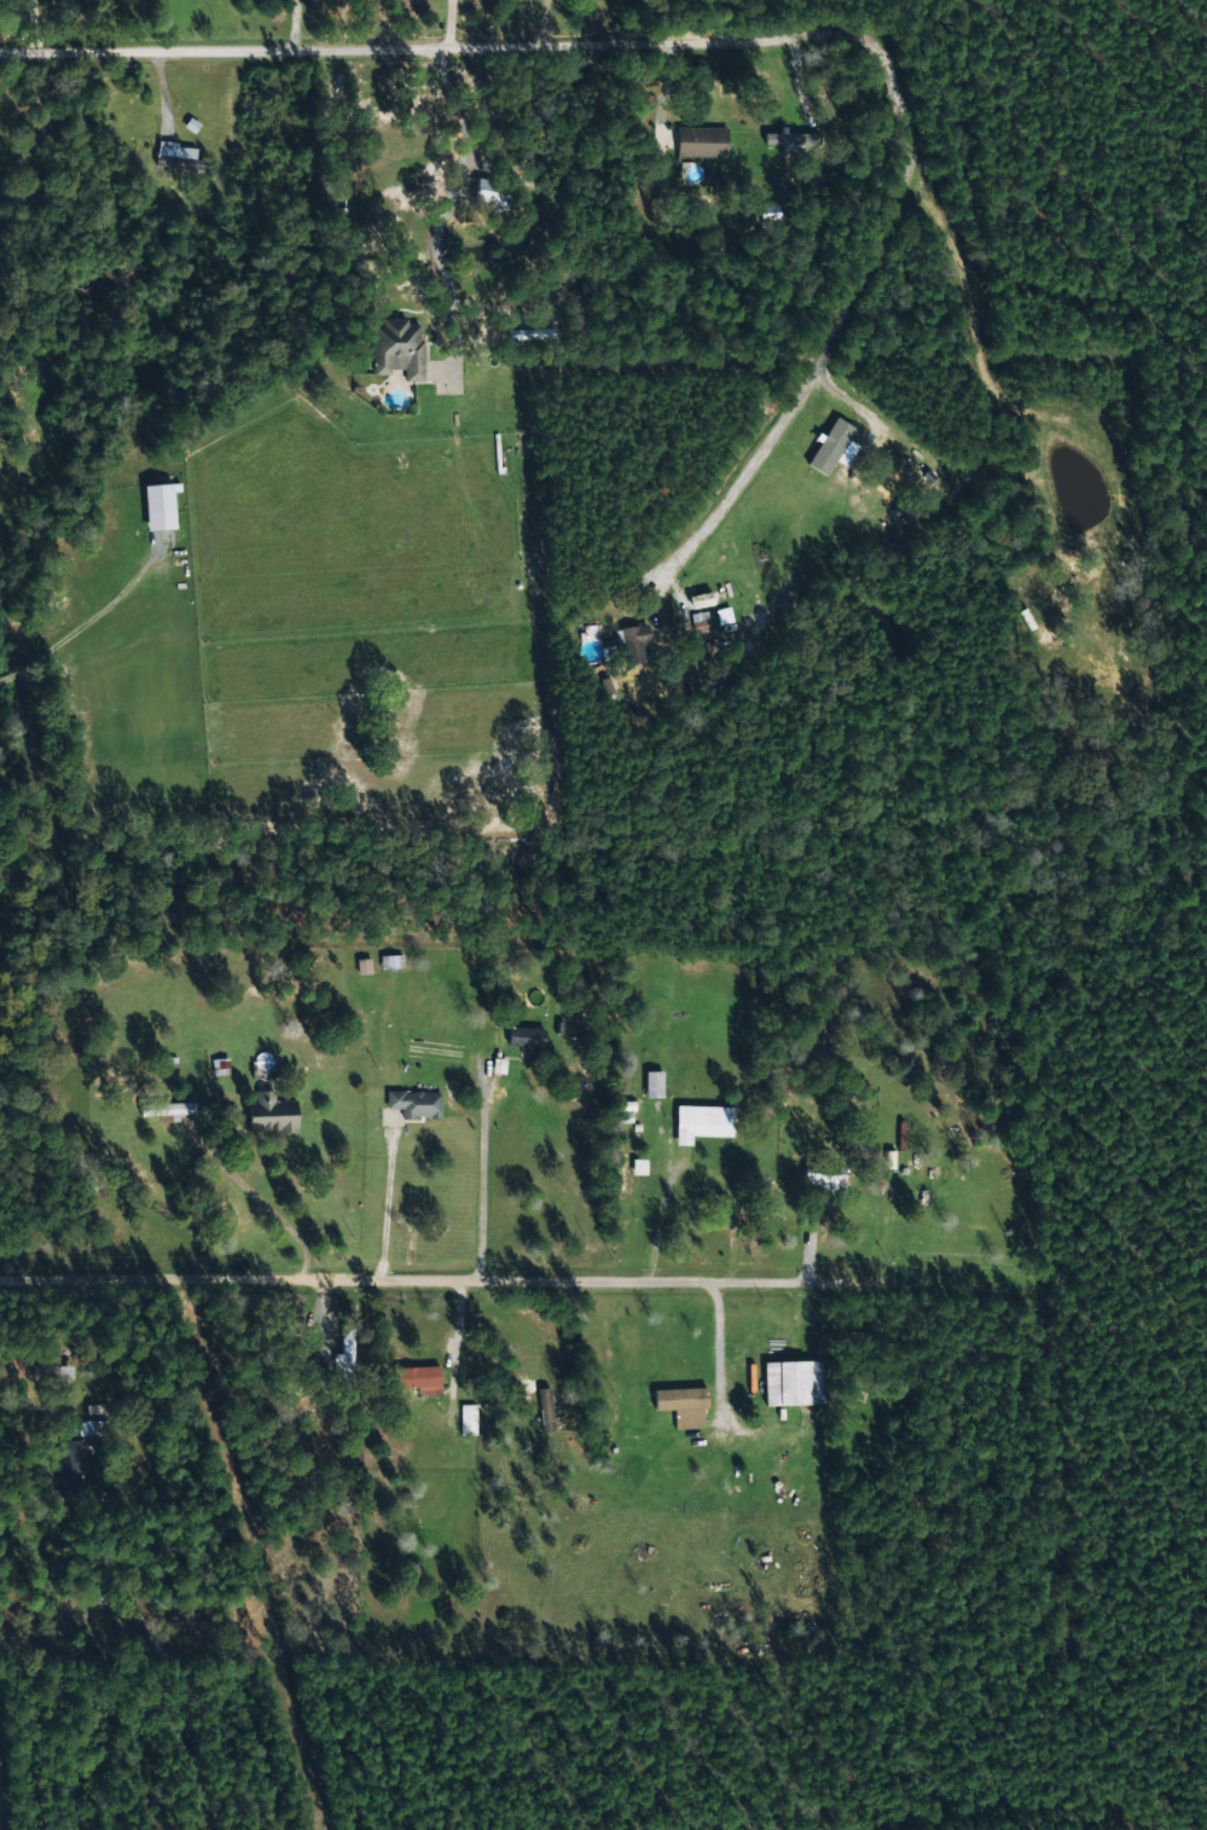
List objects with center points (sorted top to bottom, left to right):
road: (535, 46)
building: (135, 122)
building: (700, 144)
building: (178, 158)
building: (488, 193)
building: (396, 350)
building: (890, 480)
building: (1091, 614)
building: (700, 626)
building: (632, 644)
building: (390, 964)
building: (518, 1041)
building: (431, 1053)
building: (219, 1068)
building: (413, 1105)
building: (164, 1111)
building: (268, 1116)
building: (700, 1125)
building: (626, 1172)
building: (822, 1178)
building: (944, 1199)
road: (291, 1317)
building: (344, 1354)
building: (48, 1372)
building: (413, 1379)
building: (172, 1382)
building: (790, 1384)
building: (679, 1406)
building: (465, 1421)
building: (87, 1429)
building: (69, 1470)
building: (58, 1631)

